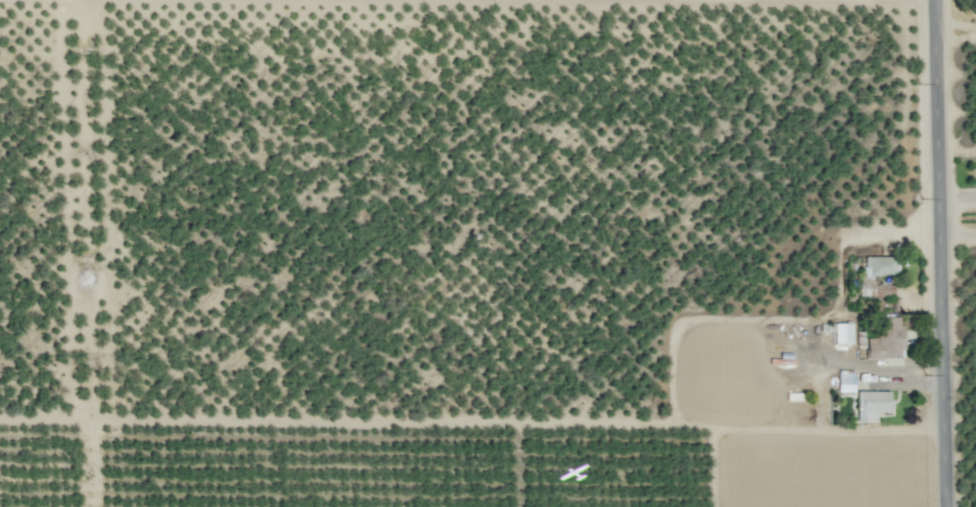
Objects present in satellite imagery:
road: (944, 253)
road: (944, 253)
building: (867, 276)
building: (842, 333)
building: (886, 339)
building: (845, 381)
building: (871, 405)
road: (390, 428)
road: (88, 466)

